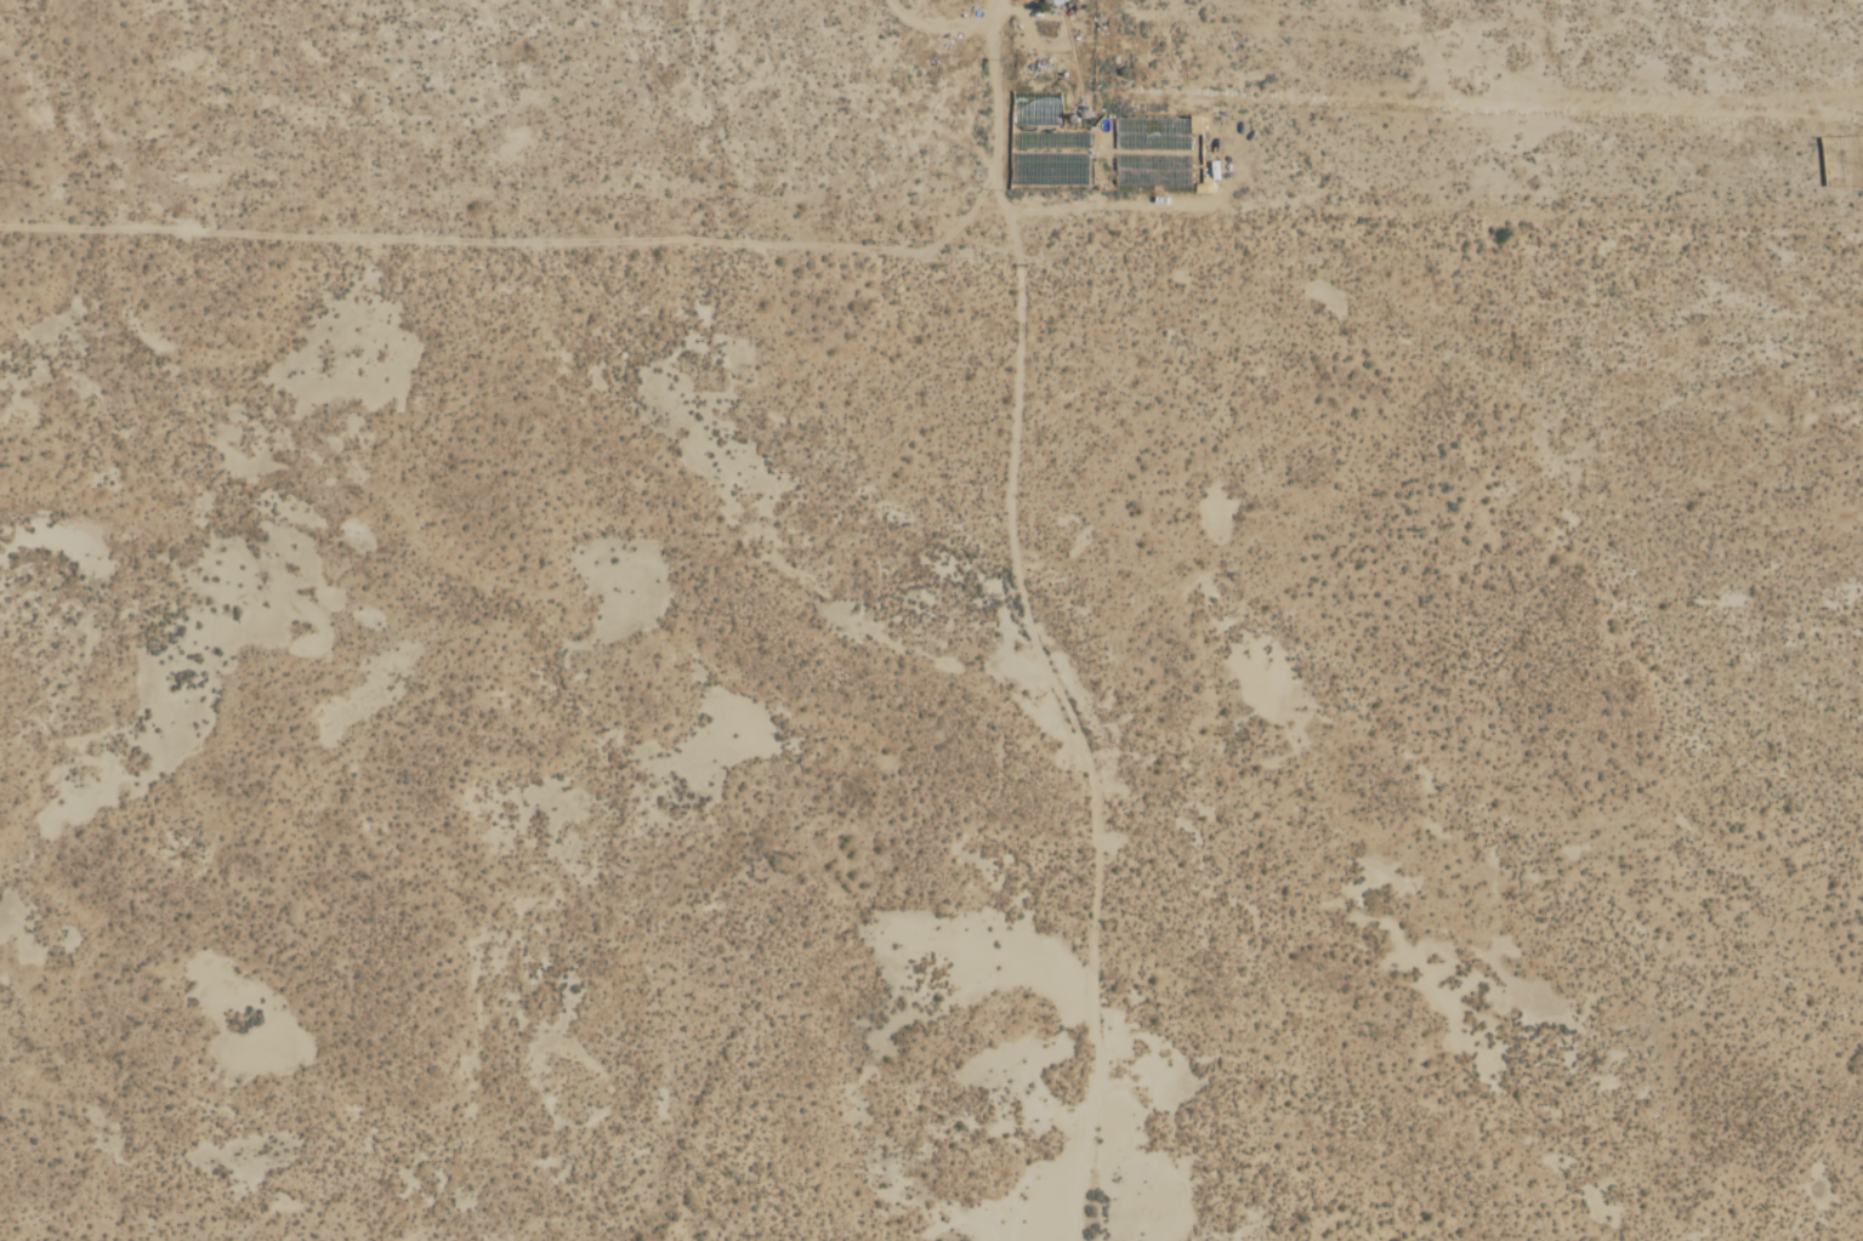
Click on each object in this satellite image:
road: (1034, 622)

